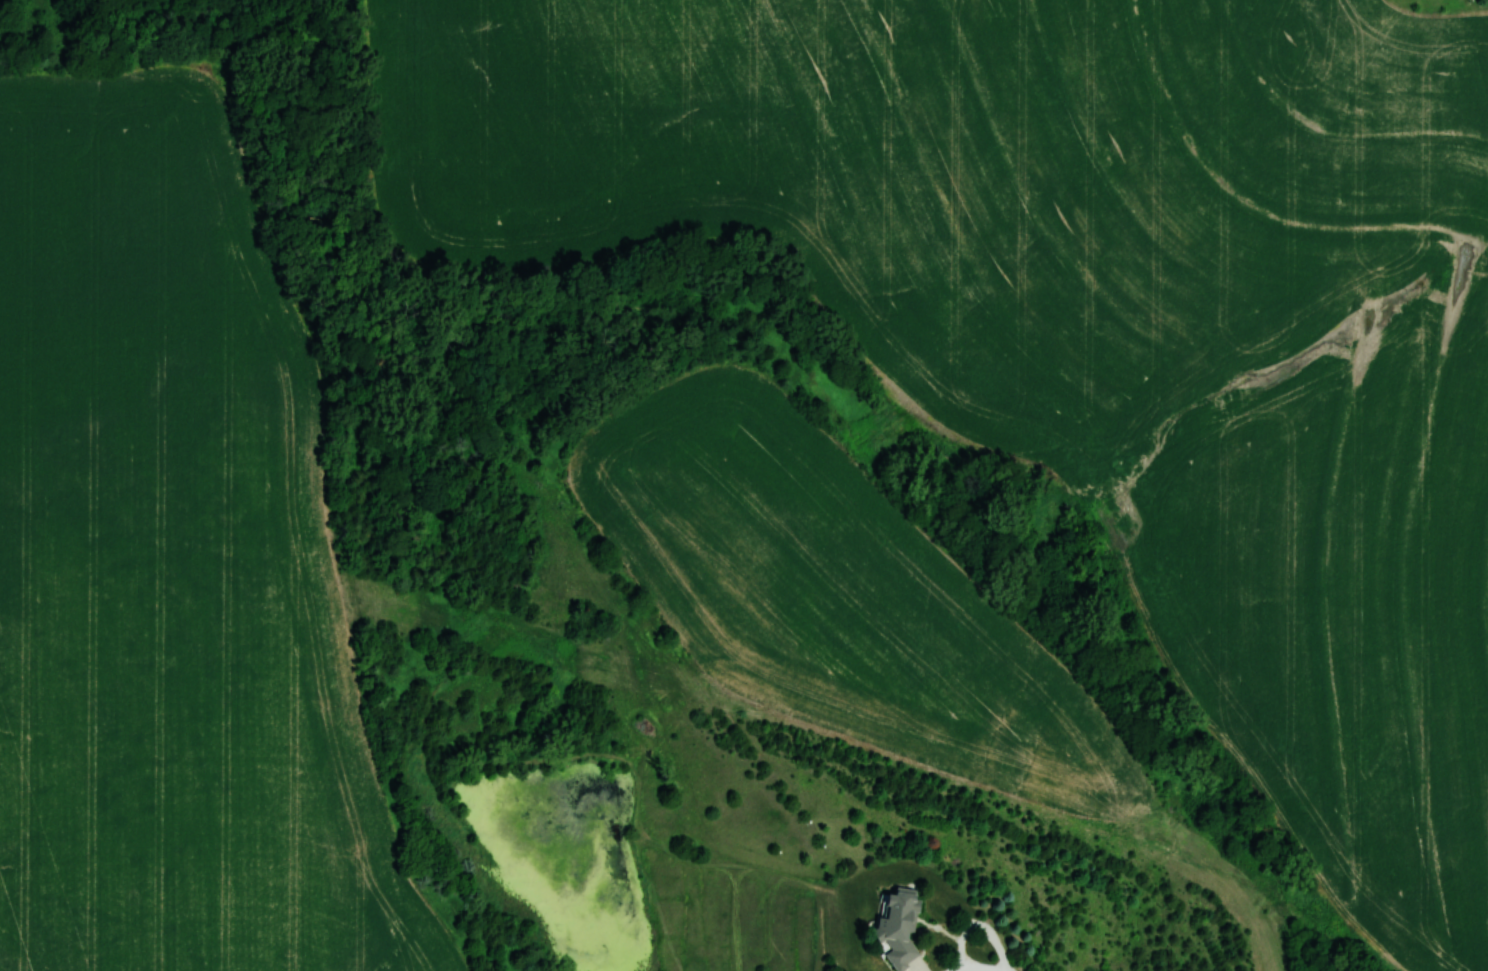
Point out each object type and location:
building: (896, 926)
road: (971, 926)

